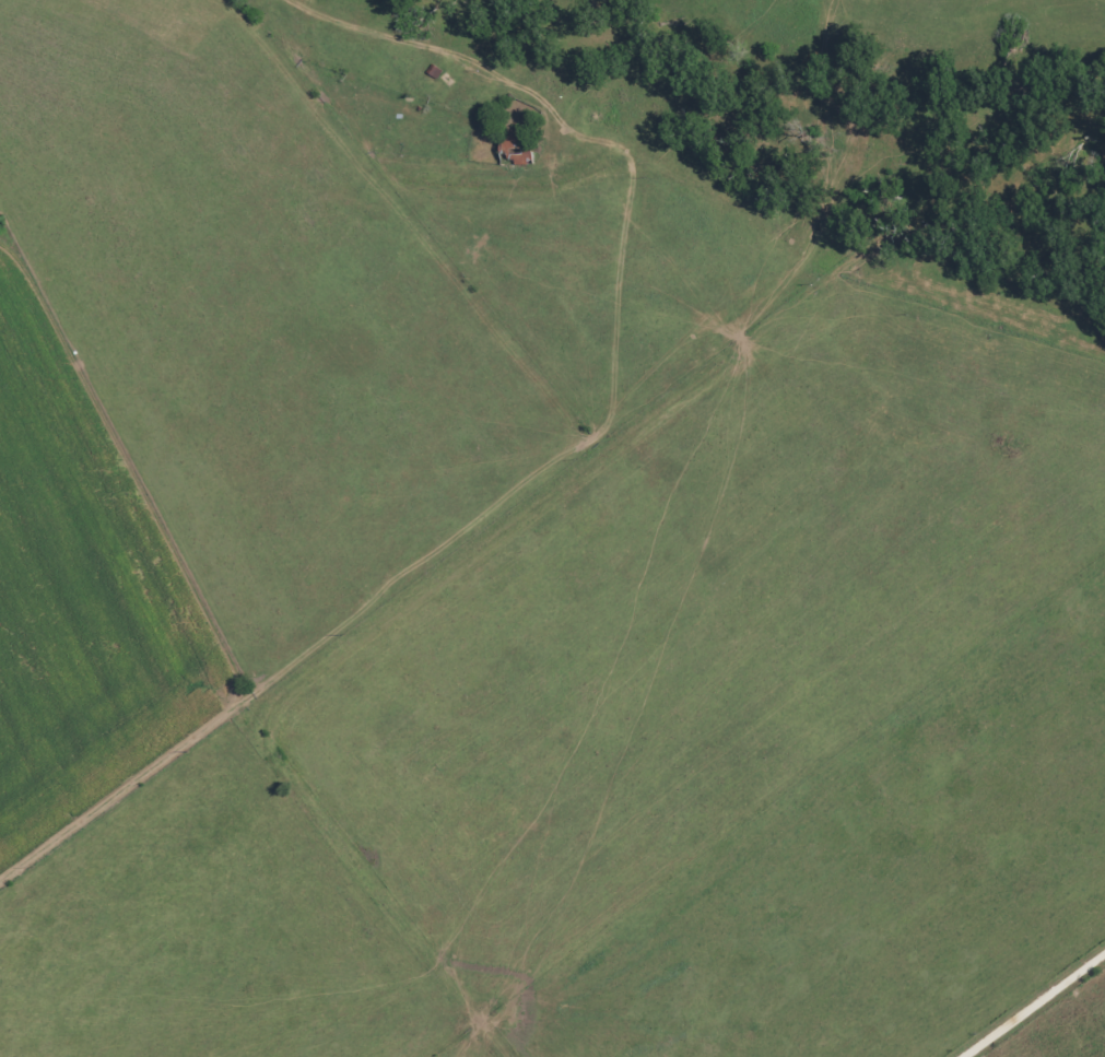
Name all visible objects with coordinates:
building: (517, 145)
road: (1098, 337)
road: (555, 473)
road: (1035, 1007)

